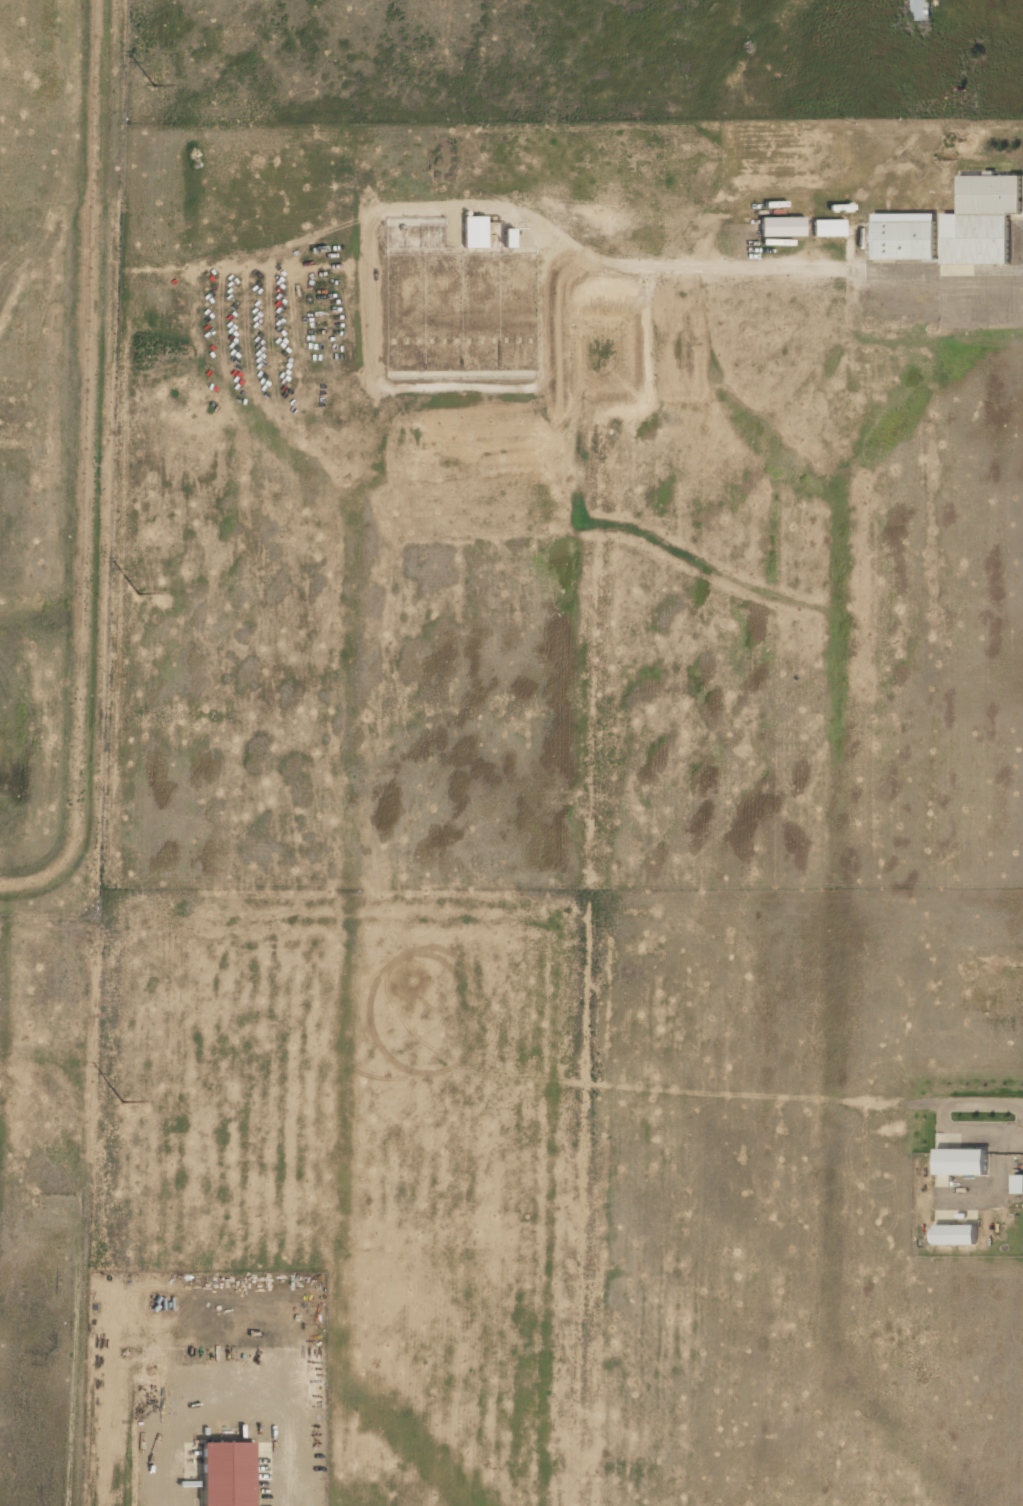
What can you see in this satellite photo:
building: (921, 10)
power tower: (155, 86)
building: (983, 220)
building: (783, 227)
building: (829, 229)
building: (475, 233)
building: (905, 236)
power tower: (138, 595)
power tower: (124, 1106)
building: (962, 1162)
building: (1018, 1184)
building: (956, 1235)
building: (228, 1474)

